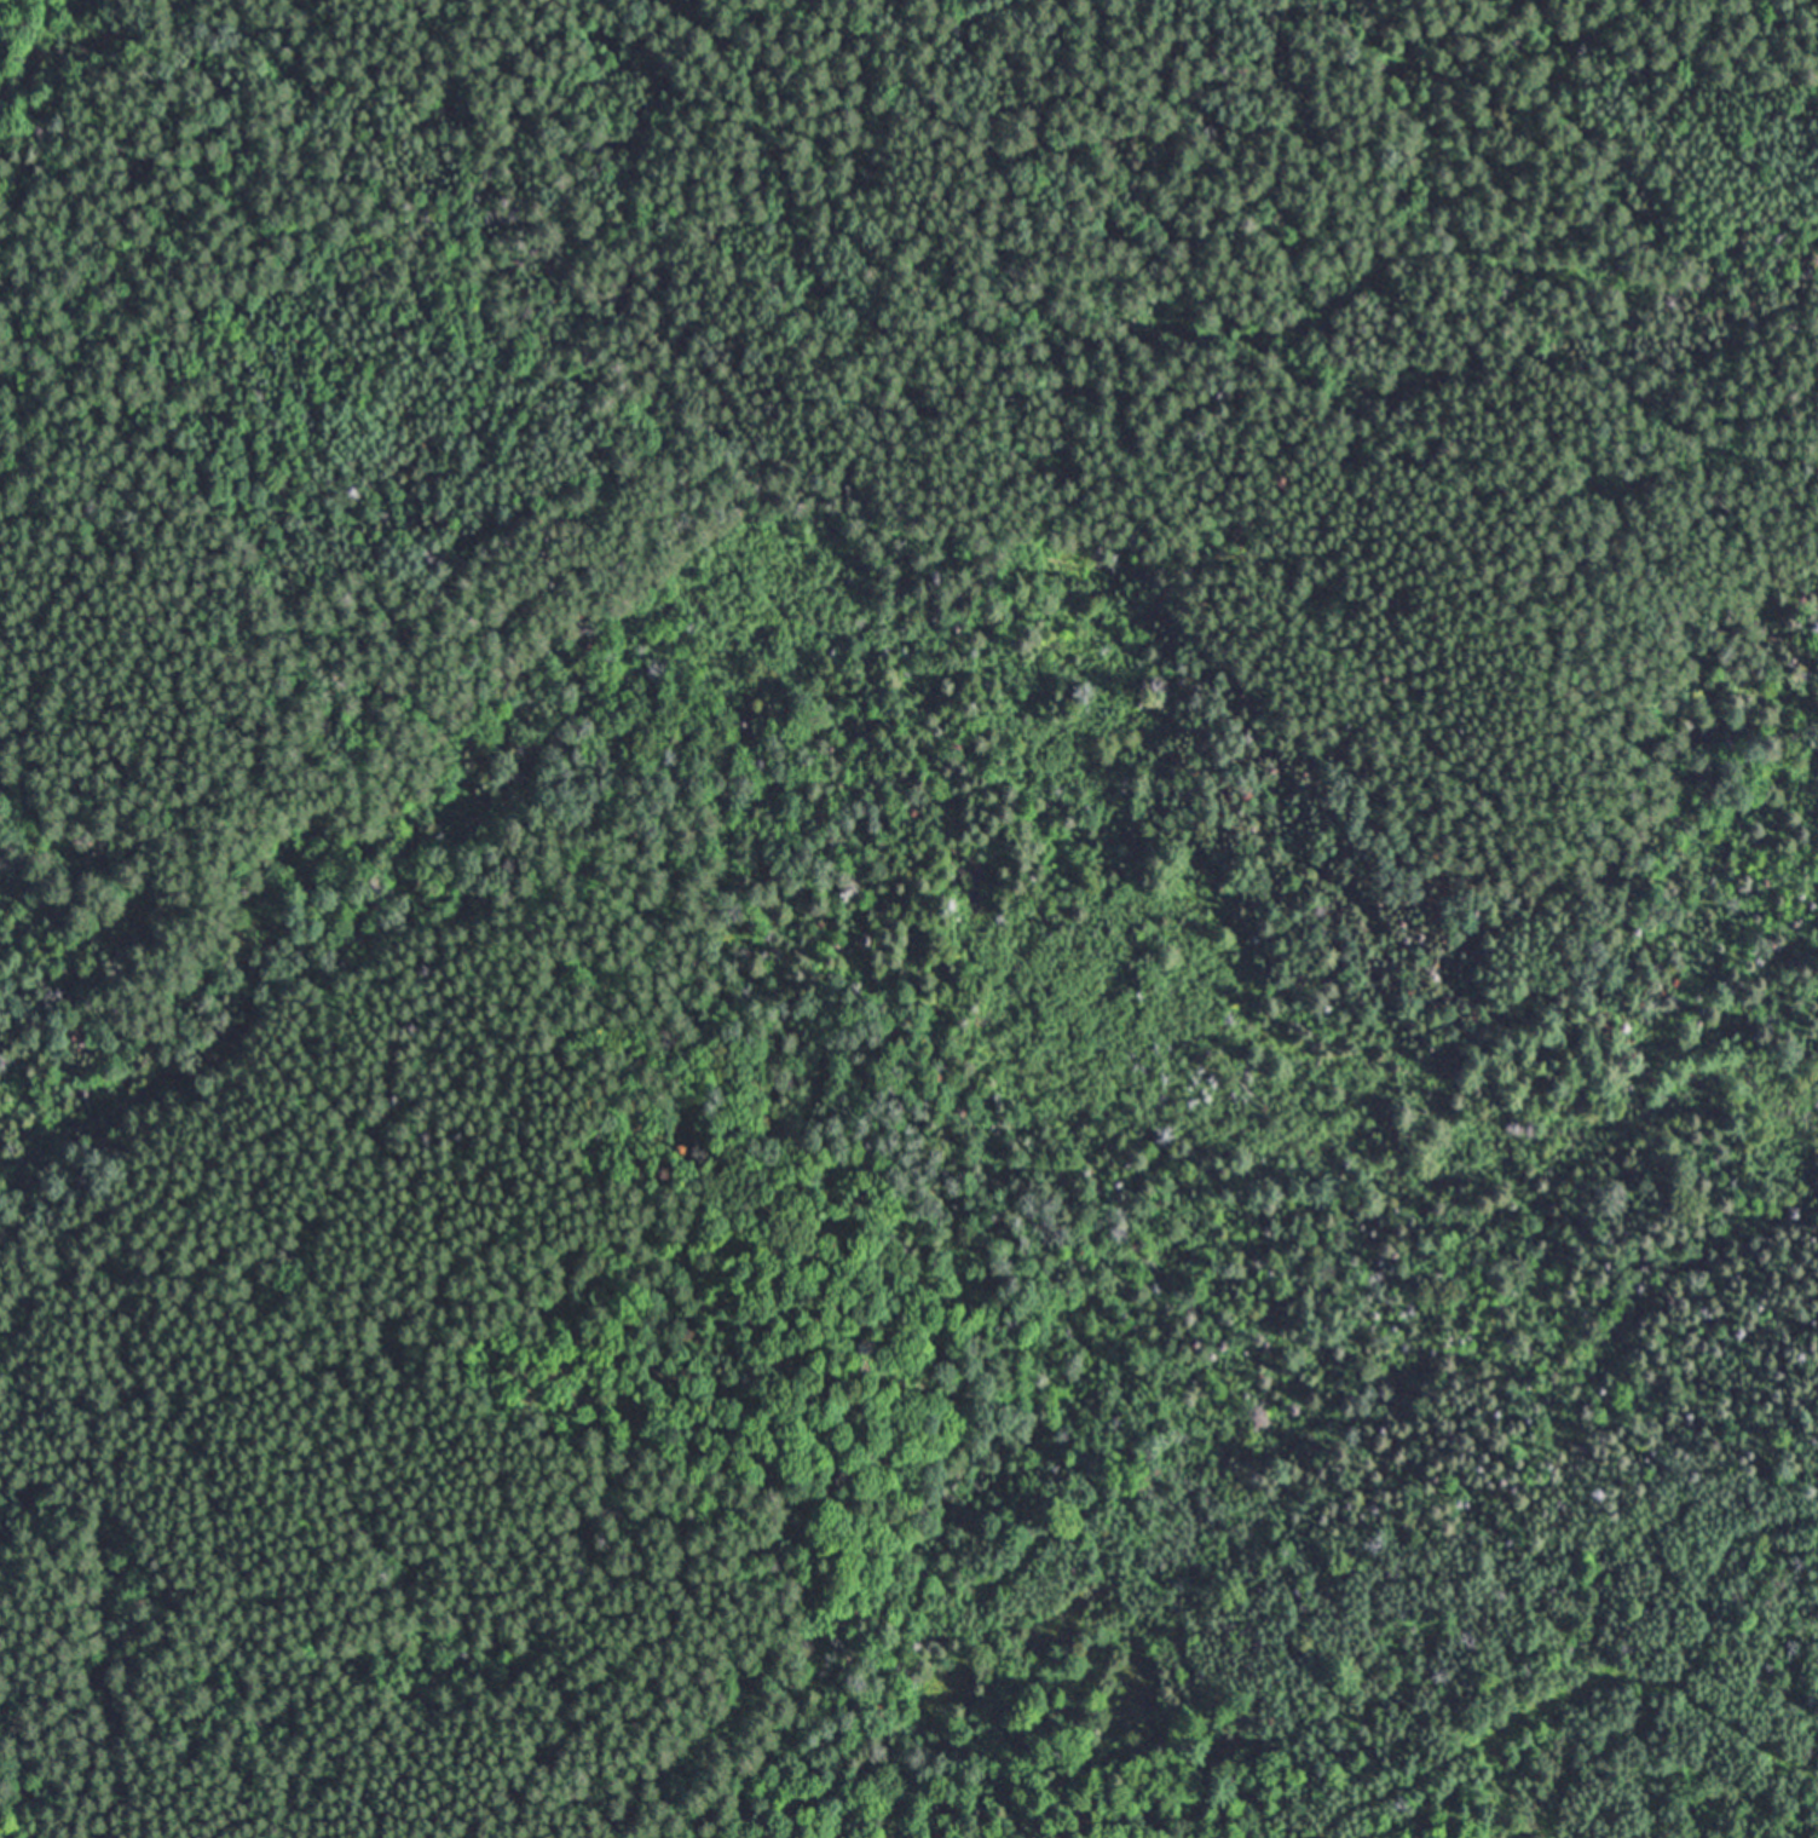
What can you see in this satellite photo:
road: (1569, 1689)

